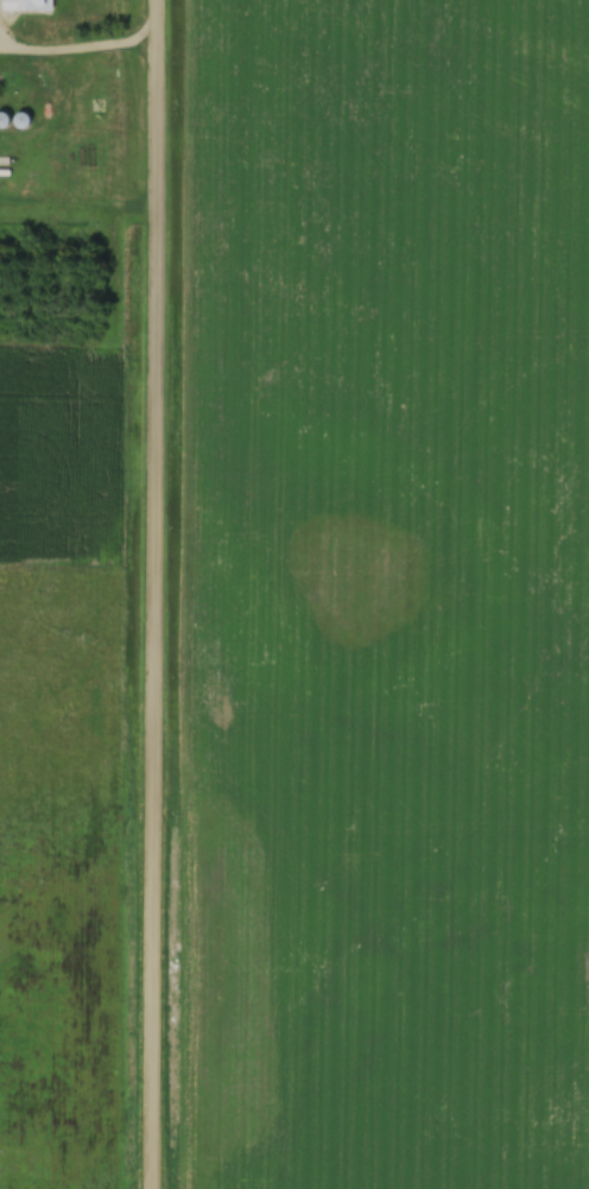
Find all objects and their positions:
building: (25, 6)
road: (141, 594)

